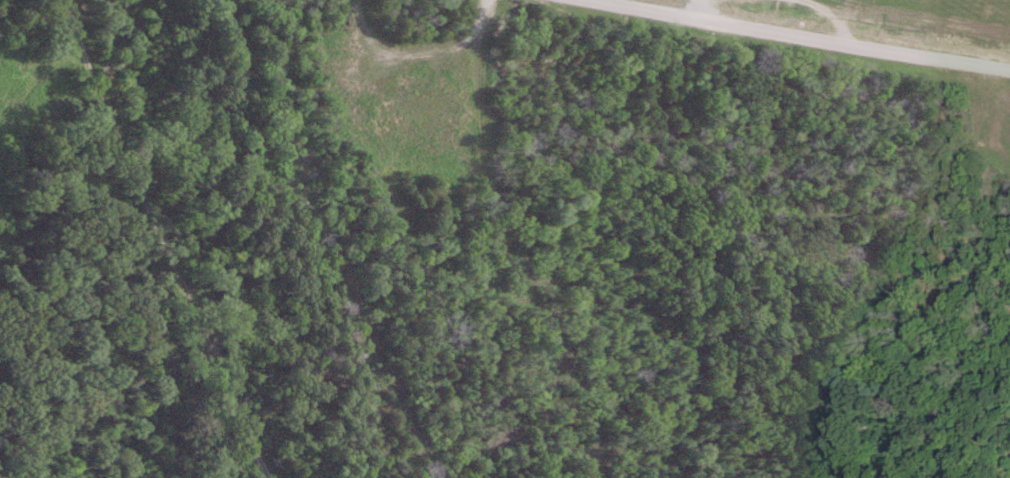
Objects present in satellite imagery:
road: (698, 8)
road: (810, 37)
road: (167, 240)
road: (321, 240)
road: (508, 245)

